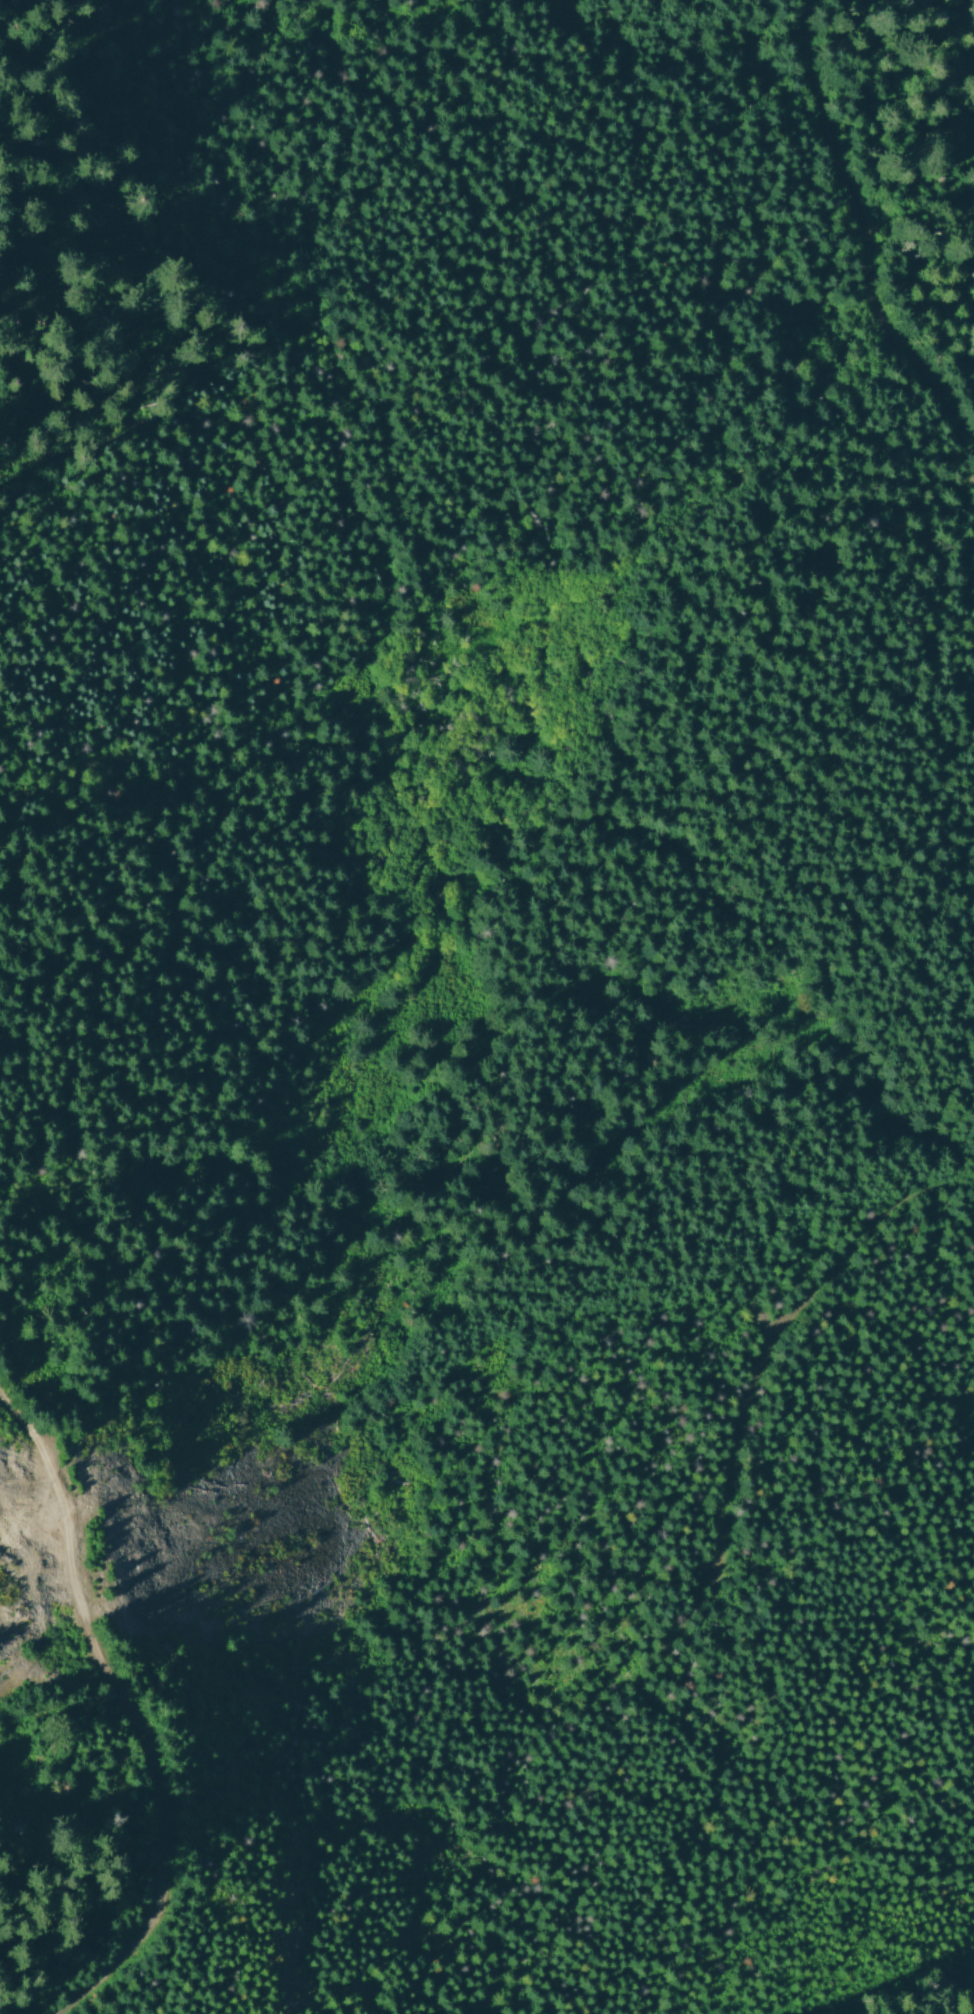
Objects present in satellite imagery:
road: (860, 227)
road: (776, 1334)
road: (135, 1717)

